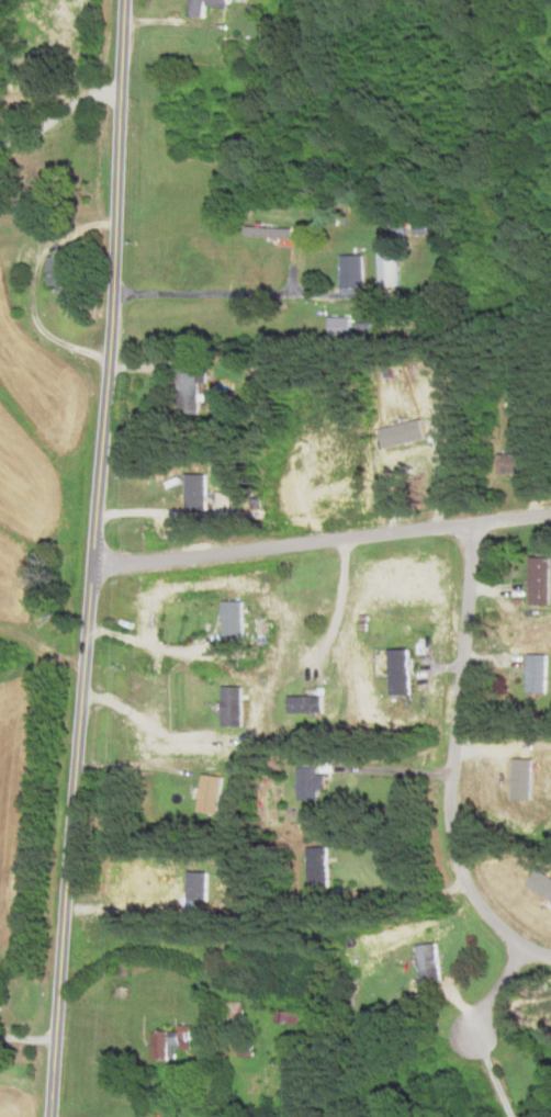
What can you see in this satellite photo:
building: (196, 11)
road: (61, 114)
building: (277, 233)
building: (351, 271)
building: (60, 277)
road: (38, 283)
road: (205, 294)
building: (339, 324)
building: (191, 383)
building: (402, 432)
building: (511, 462)
building: (195, 490)
building: (223, 497)
road: (322, 535)
road: (94, 558)
building: (540, 579)
road: (341, 601)
building: (232, 618)
building: (400, 670)
building: (537, 672)
building: (301, 703)
building: (232, 706)
road: (147, 723)
road: (453, 761)
building: (307, 782)
building: (210, 792)
building: (317, 866)
road: (404, 891)
building: (428, 961)
road: (501, 989)
building: (170, 1041)
road: (491, 1074)

